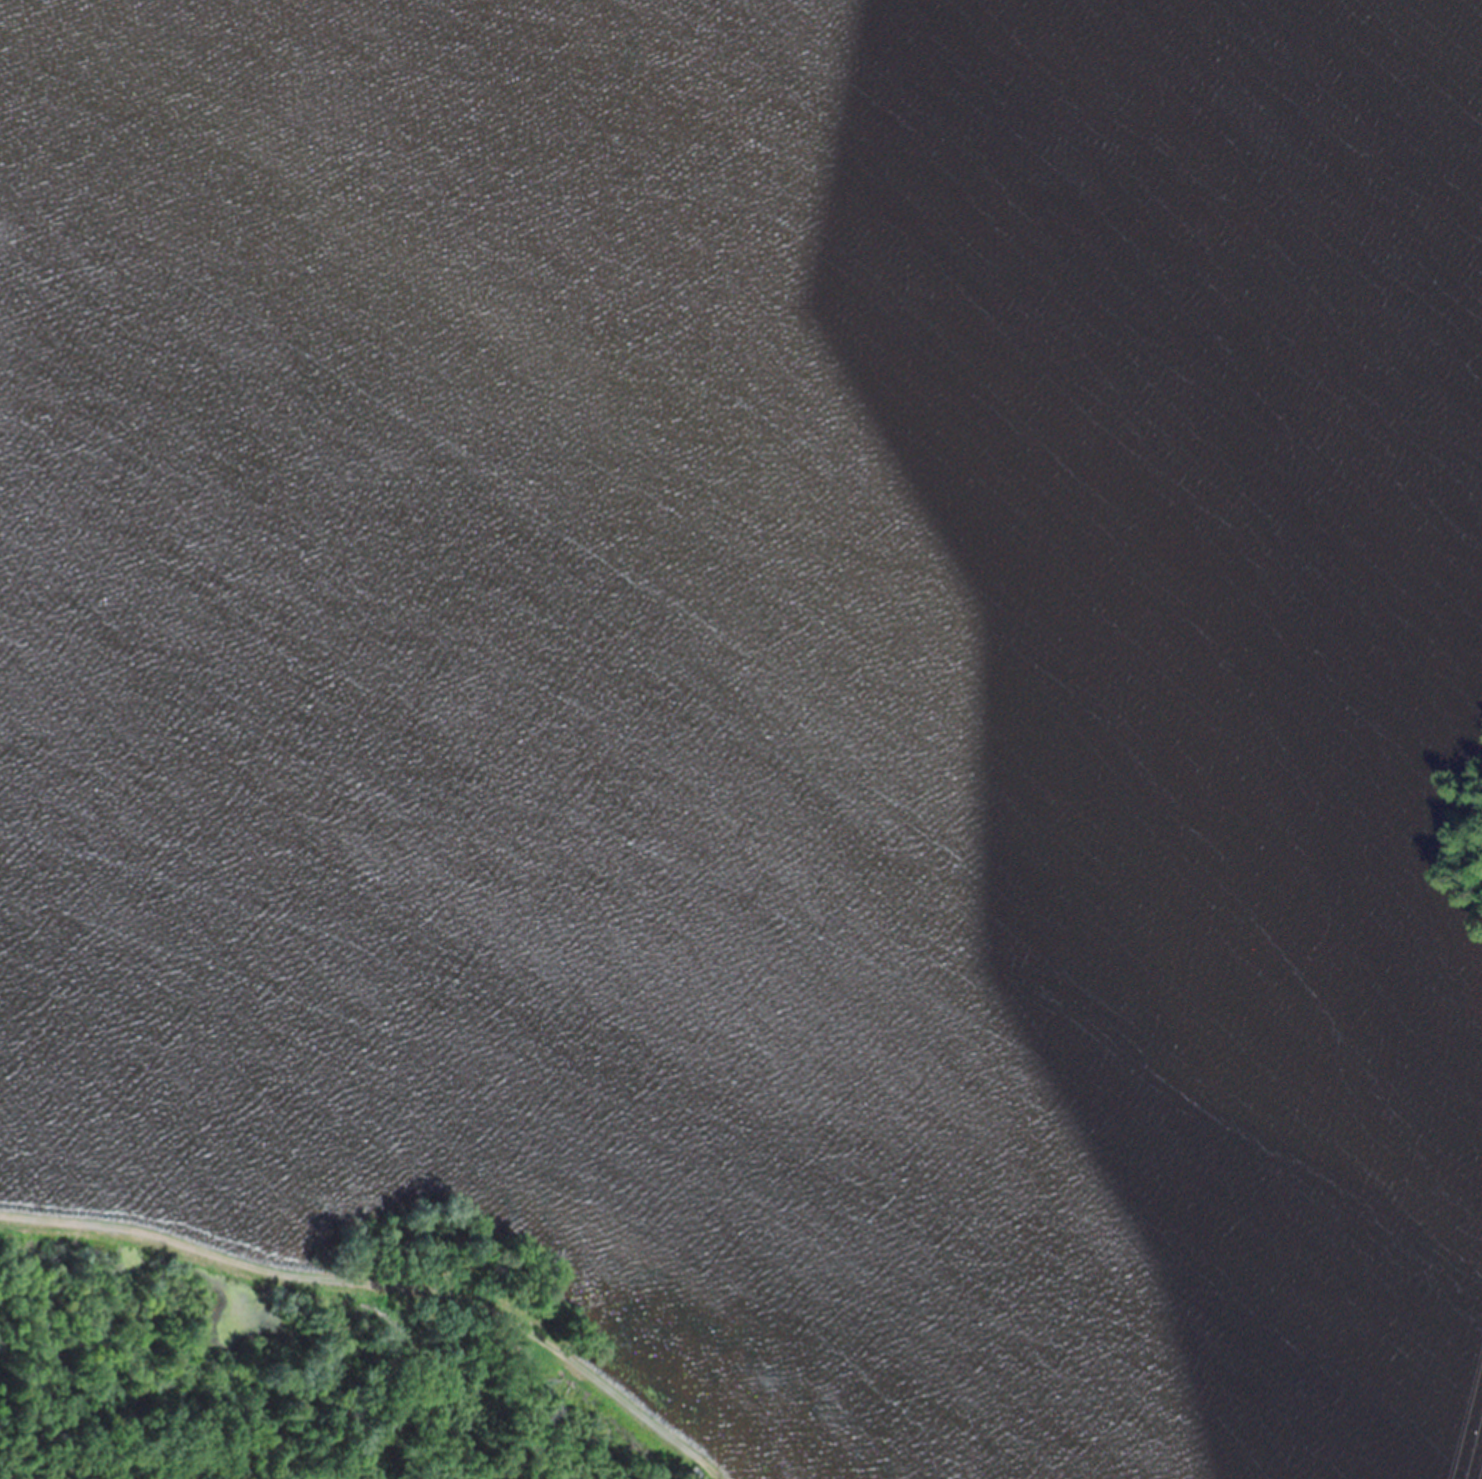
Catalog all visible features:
river: (757, 919)

